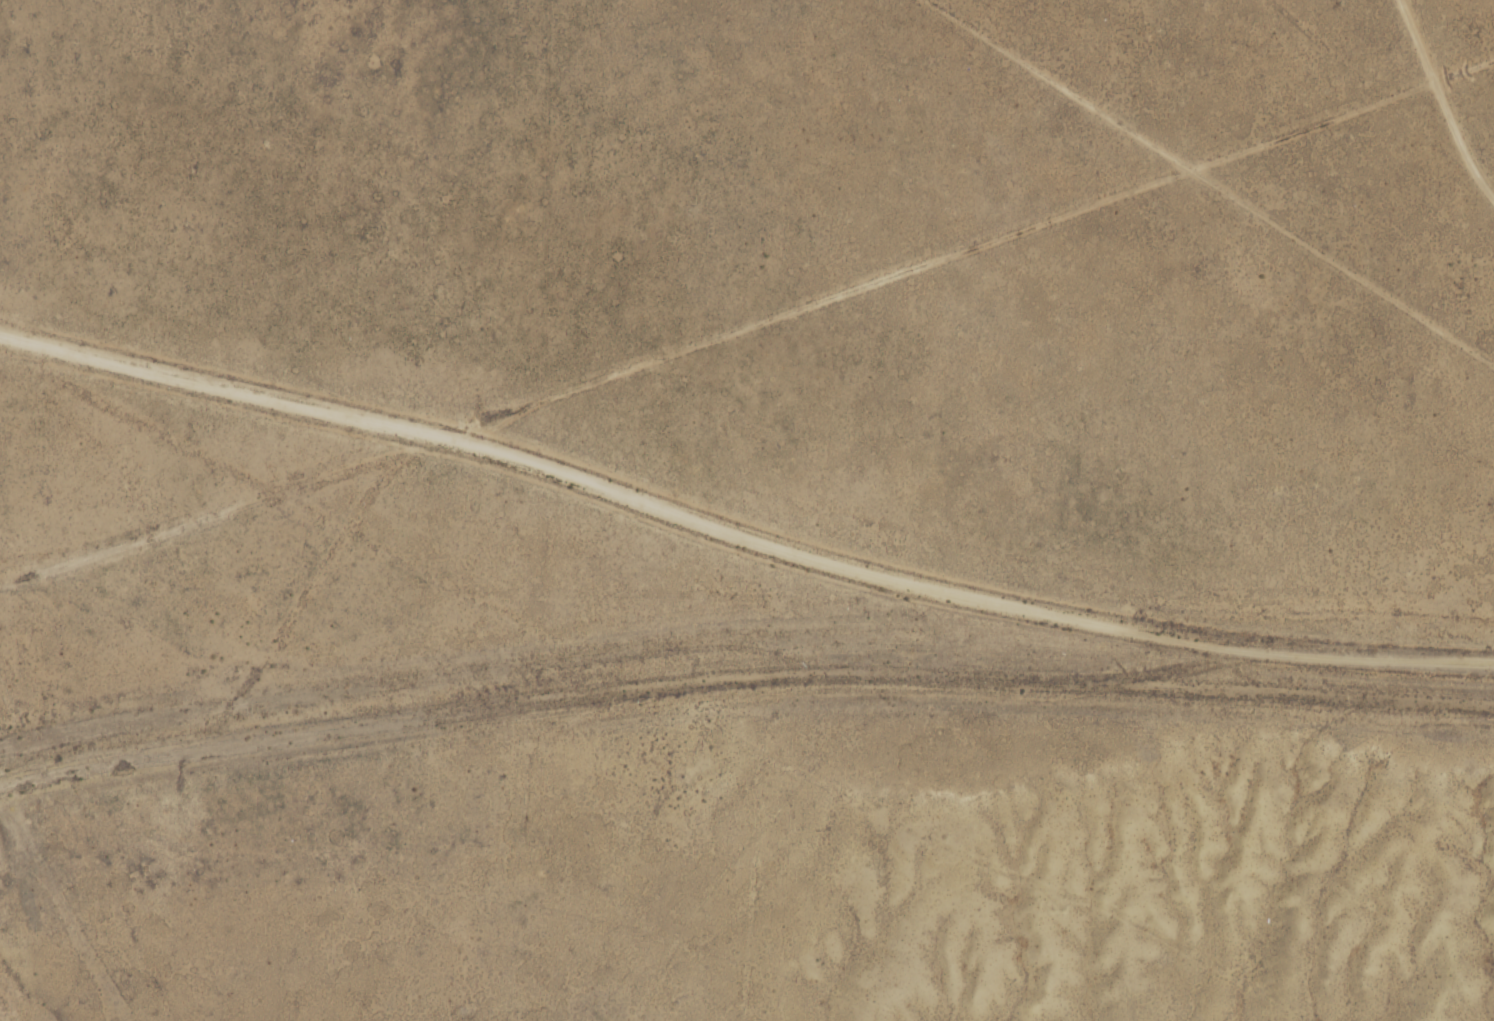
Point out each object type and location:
road: (959, 98)
road: (1226, 267)
road: (753, 302)
road: (943, 568)

